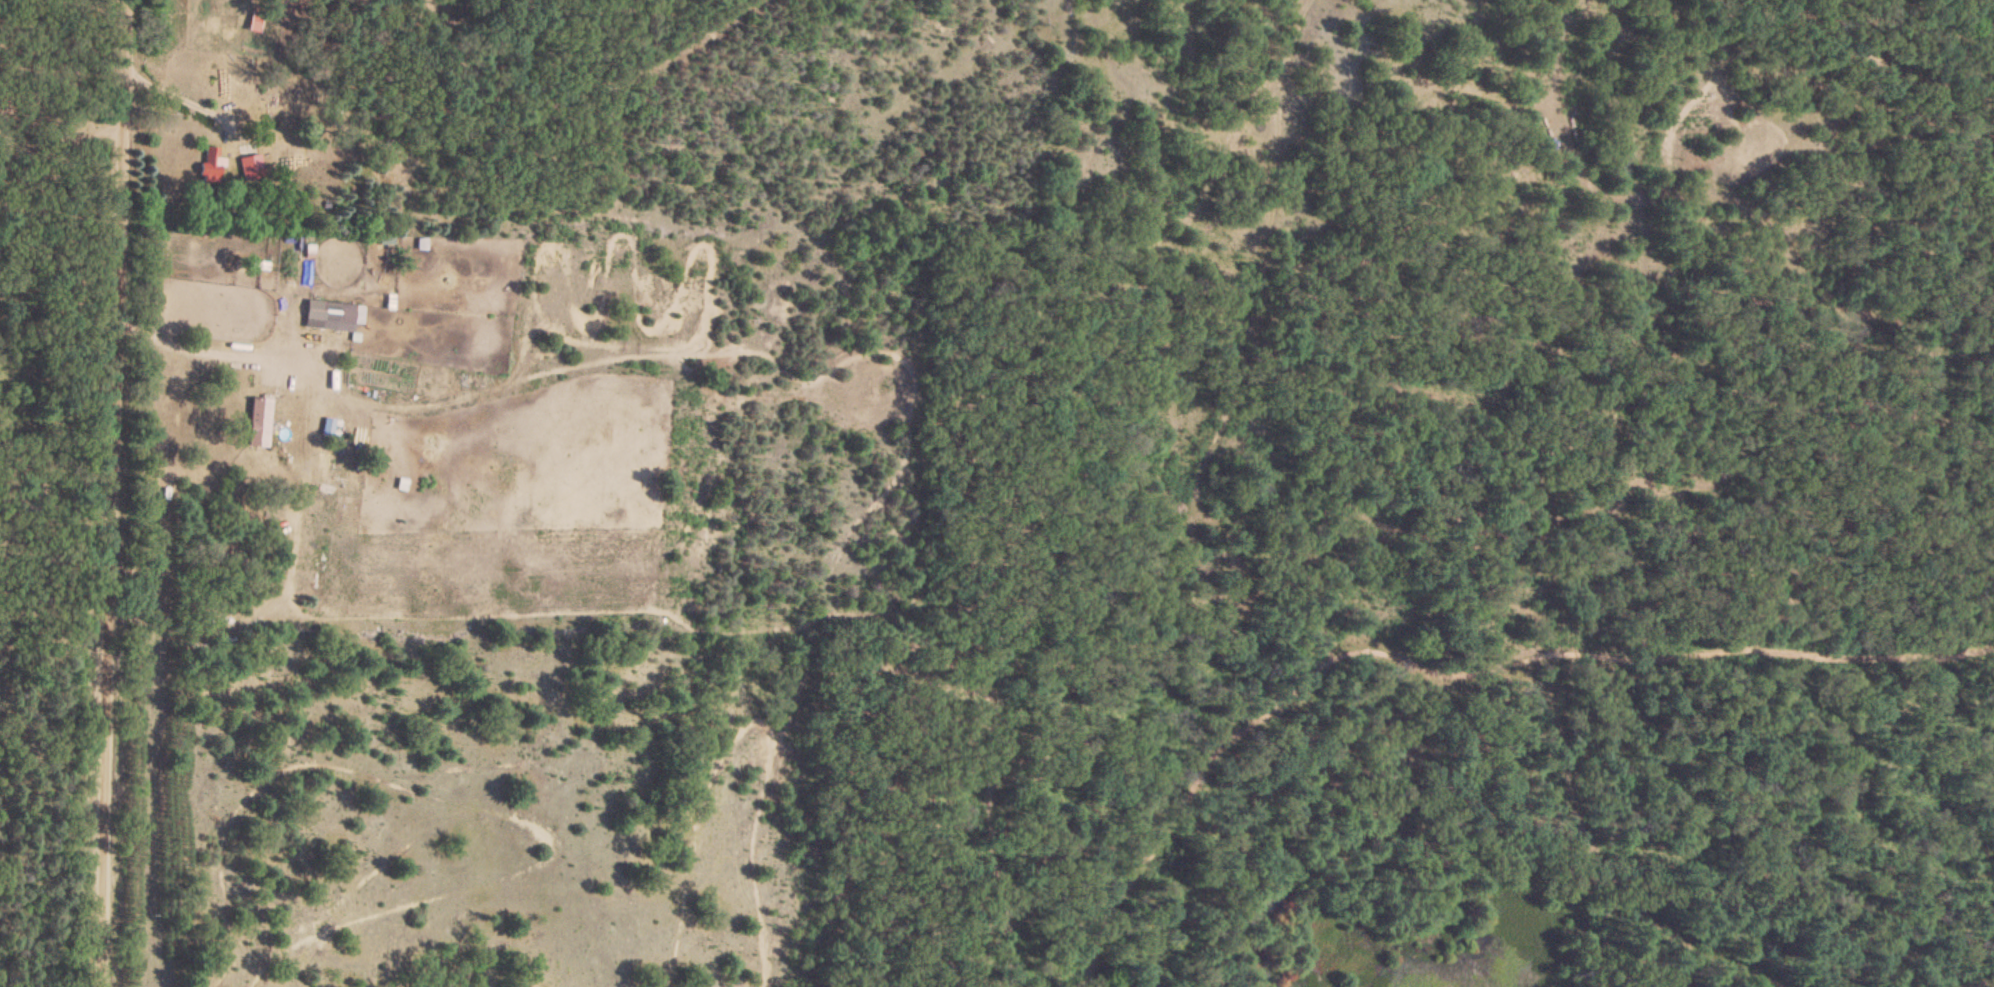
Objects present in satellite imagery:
building: (254, 26)
road: (185, 88)
building: (209, 167)
building: (249, 170)
building: (312, 317)
building: (348, 317)
road: (325, 380)
building: (256, 425)
road: (99, 493)
road: (48, 593)

